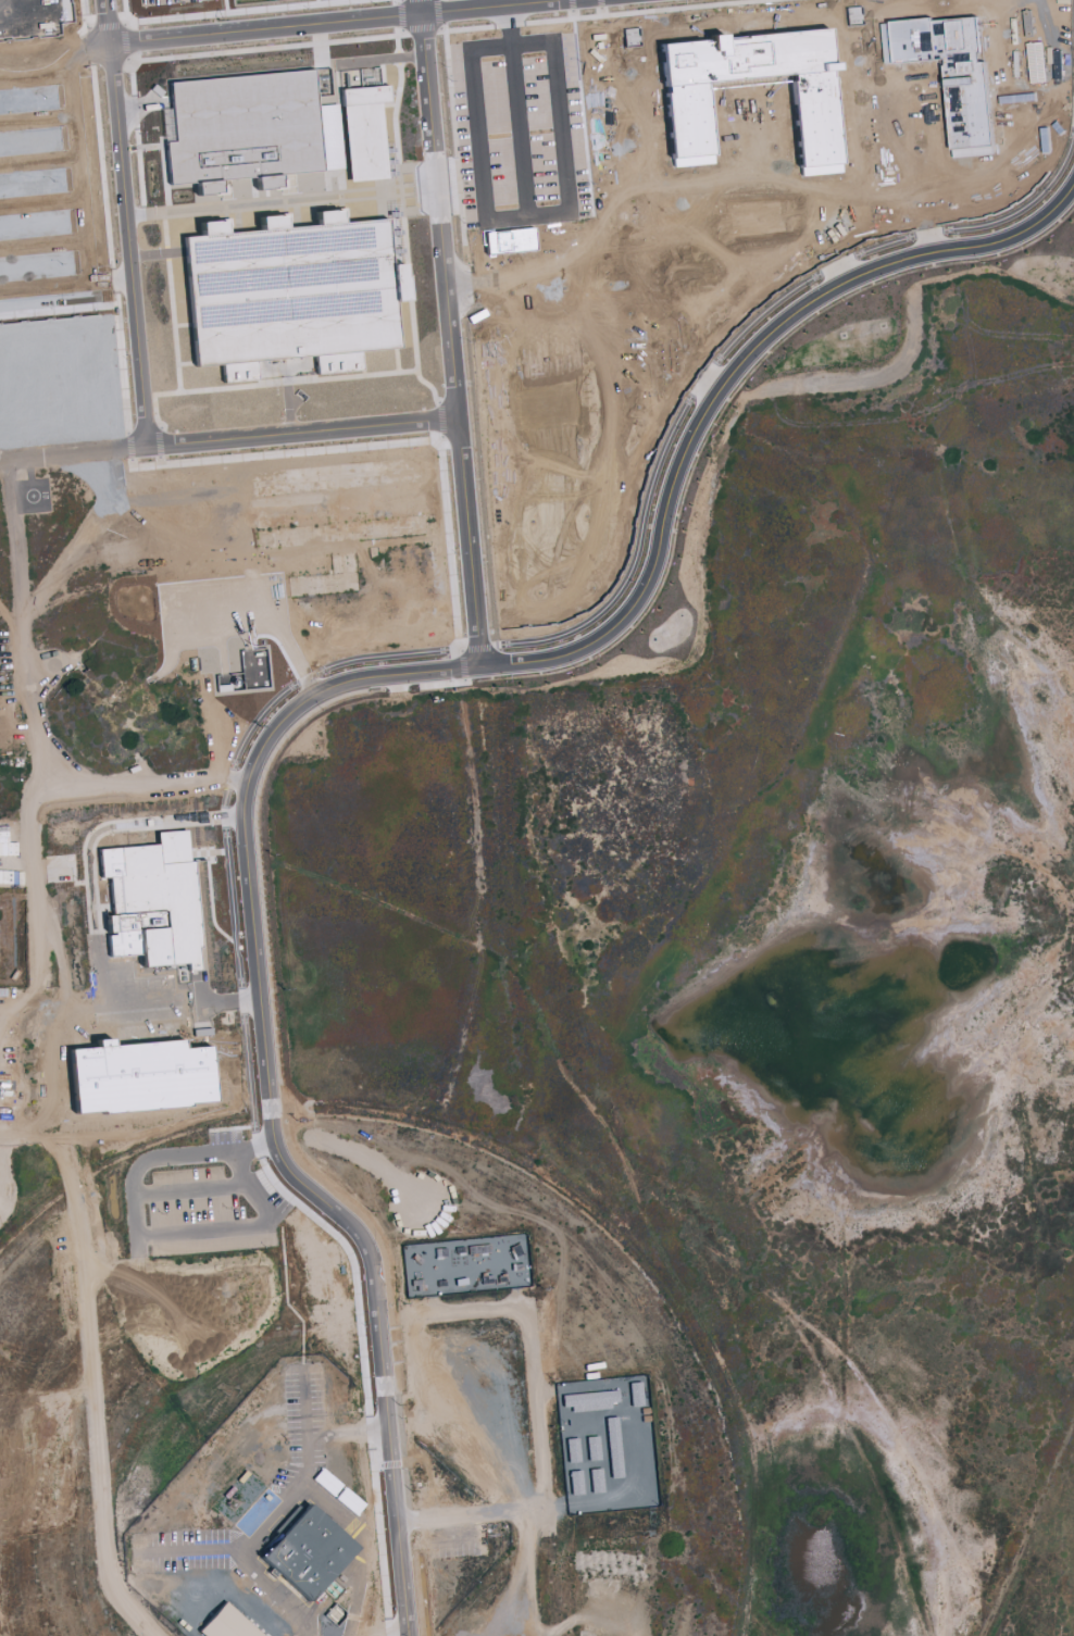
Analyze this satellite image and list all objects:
road: (480, 7)
road: (267, 27)
road: (442, 210)
road: (118, 221)
road: (230, 439)
road: (662, 514)
road: (472, 541)
road: (187, 629)
road: (239, 798)
building: (153, 899)
road: (47, 1057)
road: (132, 1235)
road: (383, 1375)
road: (305, 1419)
road: (436, 1516)
road: (1028, 1531)
road: (366, 1547)
road: (193, 1550)
building: (308, 1554)
road: (246, 1561)
building: (227, 1624)

